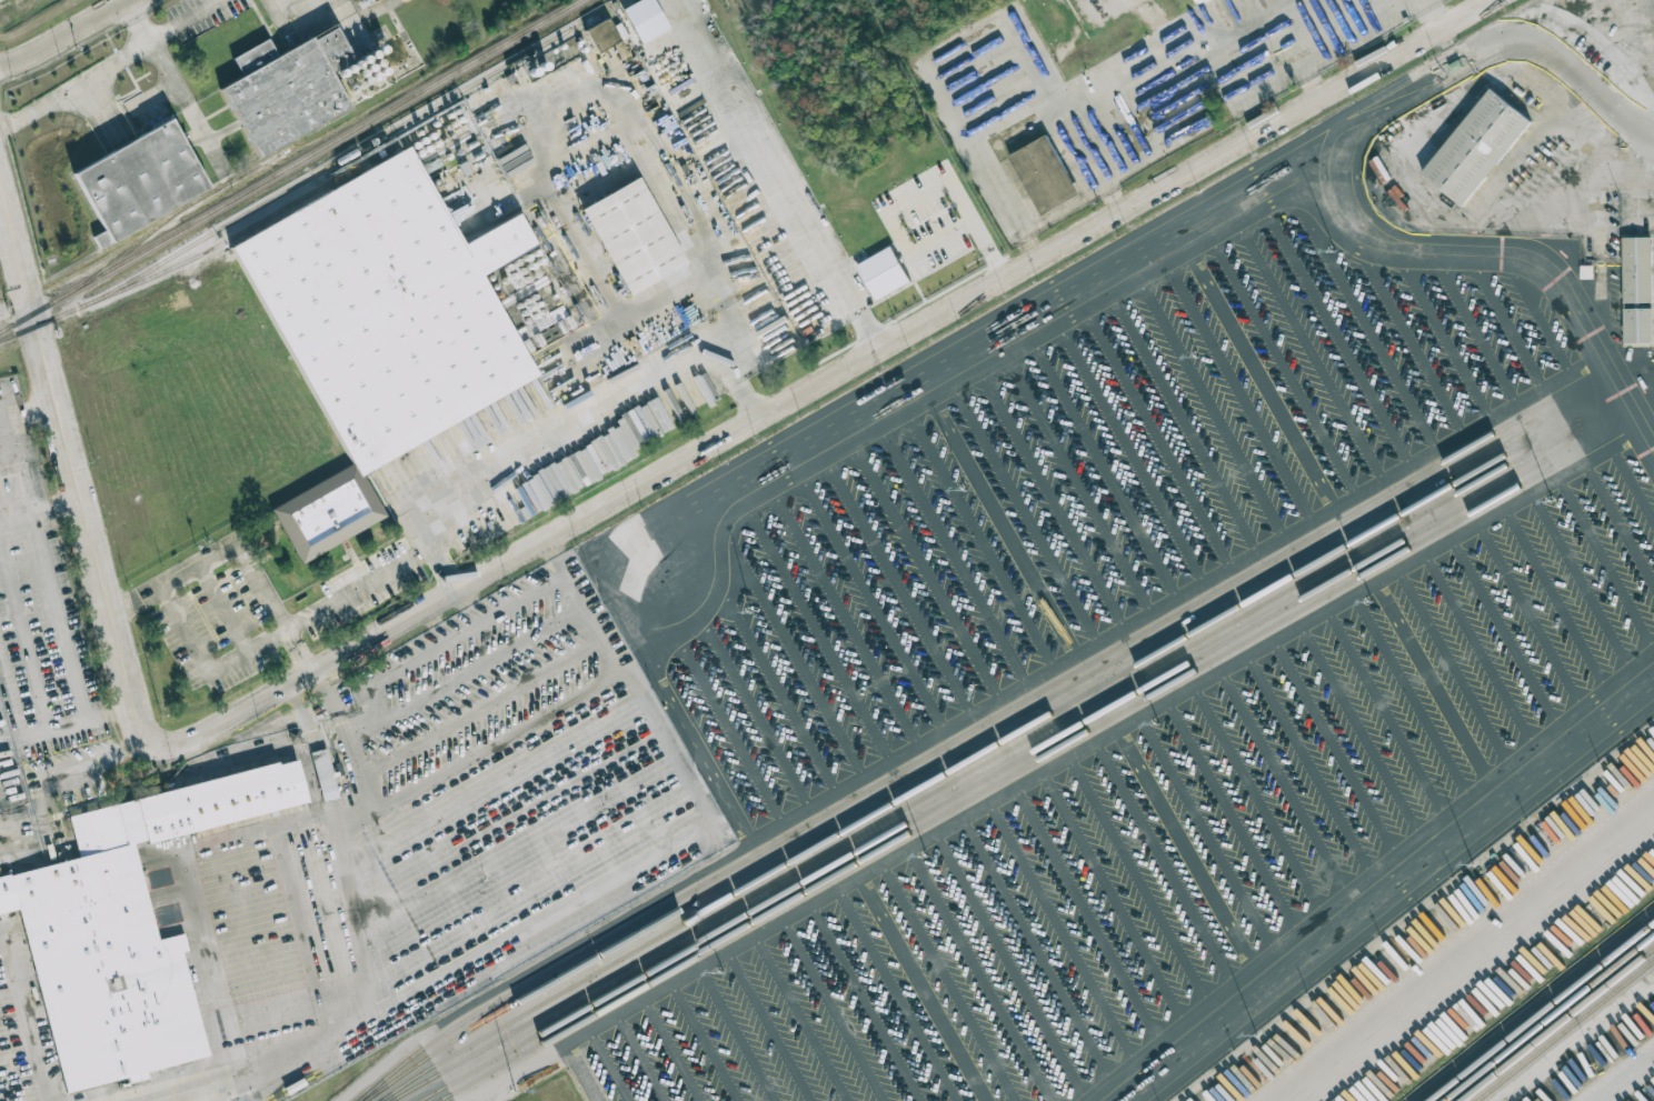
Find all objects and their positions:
building: (1209, 1)
road: (1433, 16)
road: (187, 18)
building: (644, 19)
road: (1157, 22)
building: (601, 34)
road: (68, 37)
road: (1518, 42)
road: (980, 63)
road: (1301, 63)
road: (1204, 68)
road: (78, 83)
building: (296, 83)
road: (177, 84)
road: (1070, 127)
road: (1018, 128)
road: (1425, 134)
building: (1479, 144)
railway: (335, 162)
railway: (289, 166)
road: (1644, 170)
road: (992, 171)
road: (778, 174)
building: (1044, 174)
road: (1608, 177)
building: (139, 181)
road: (935, 188)
road: (1066, 208)
railway: (180, 213)
railway: (233, 238)
building: (634, 240)
road: (986, 252)
road: (921, 253)
road: (1465, 261)
building: (1640, 268)
building: (883, 272)
road: (1598, 294)
building: (391, 314)
building: (1640, 326)
railway: (27, 328)
road: (1253, 366)
road: (827, 379)
road: (743, 380)
road: (29, 416)
road: (821, 430)
road: (576, 431)
road: (1645, 448)
road: (73, 469)
road: (40, 509)
road: (445, 552)
road: (175, 581)
road: (1555, 598)
road: (1174, 601)
road: (229, 607)
road: (323, 609)
road: (275, 610)
road: (1530, 614)
road: (57, 617)
road: (183, 631)
road: (1505, 631)
road: (439, 632)
road: (1479, 649)
road: (1453, 667)
railway: (1113, 677)
road: (37, 683)
road: (1411, 694)
road: (306, 717)
road: (341, 723)
road: (1361, 729)
railway: (1089, 733)
road: (1336, 745)
road: (1073, 754)
railway: (976, 769)
railway: (993, 771)
building: (323, 774)
road: (323, 775)
road: (1258, 798)
road: (333, 811)
road: (1233, 815)
road: (1208, 832)
road: (1368, 875)
building: (126, 930)
road: (355, 931)
railway: (678, 944)
road: (1468, 953)
road: (208, 977)
road: (485, 978)
road: (921, 989)
railway: (1534, 1007)
railway: (1543, 1013)
railway: (1551, 1019)
road: (27, 1020)
railway: (1558, 1025)
railway: (527, 1031)
railway: (1565, 1031)
road: (1583, 1043)
road: (1625, 1078)
road: (191, 1088)

